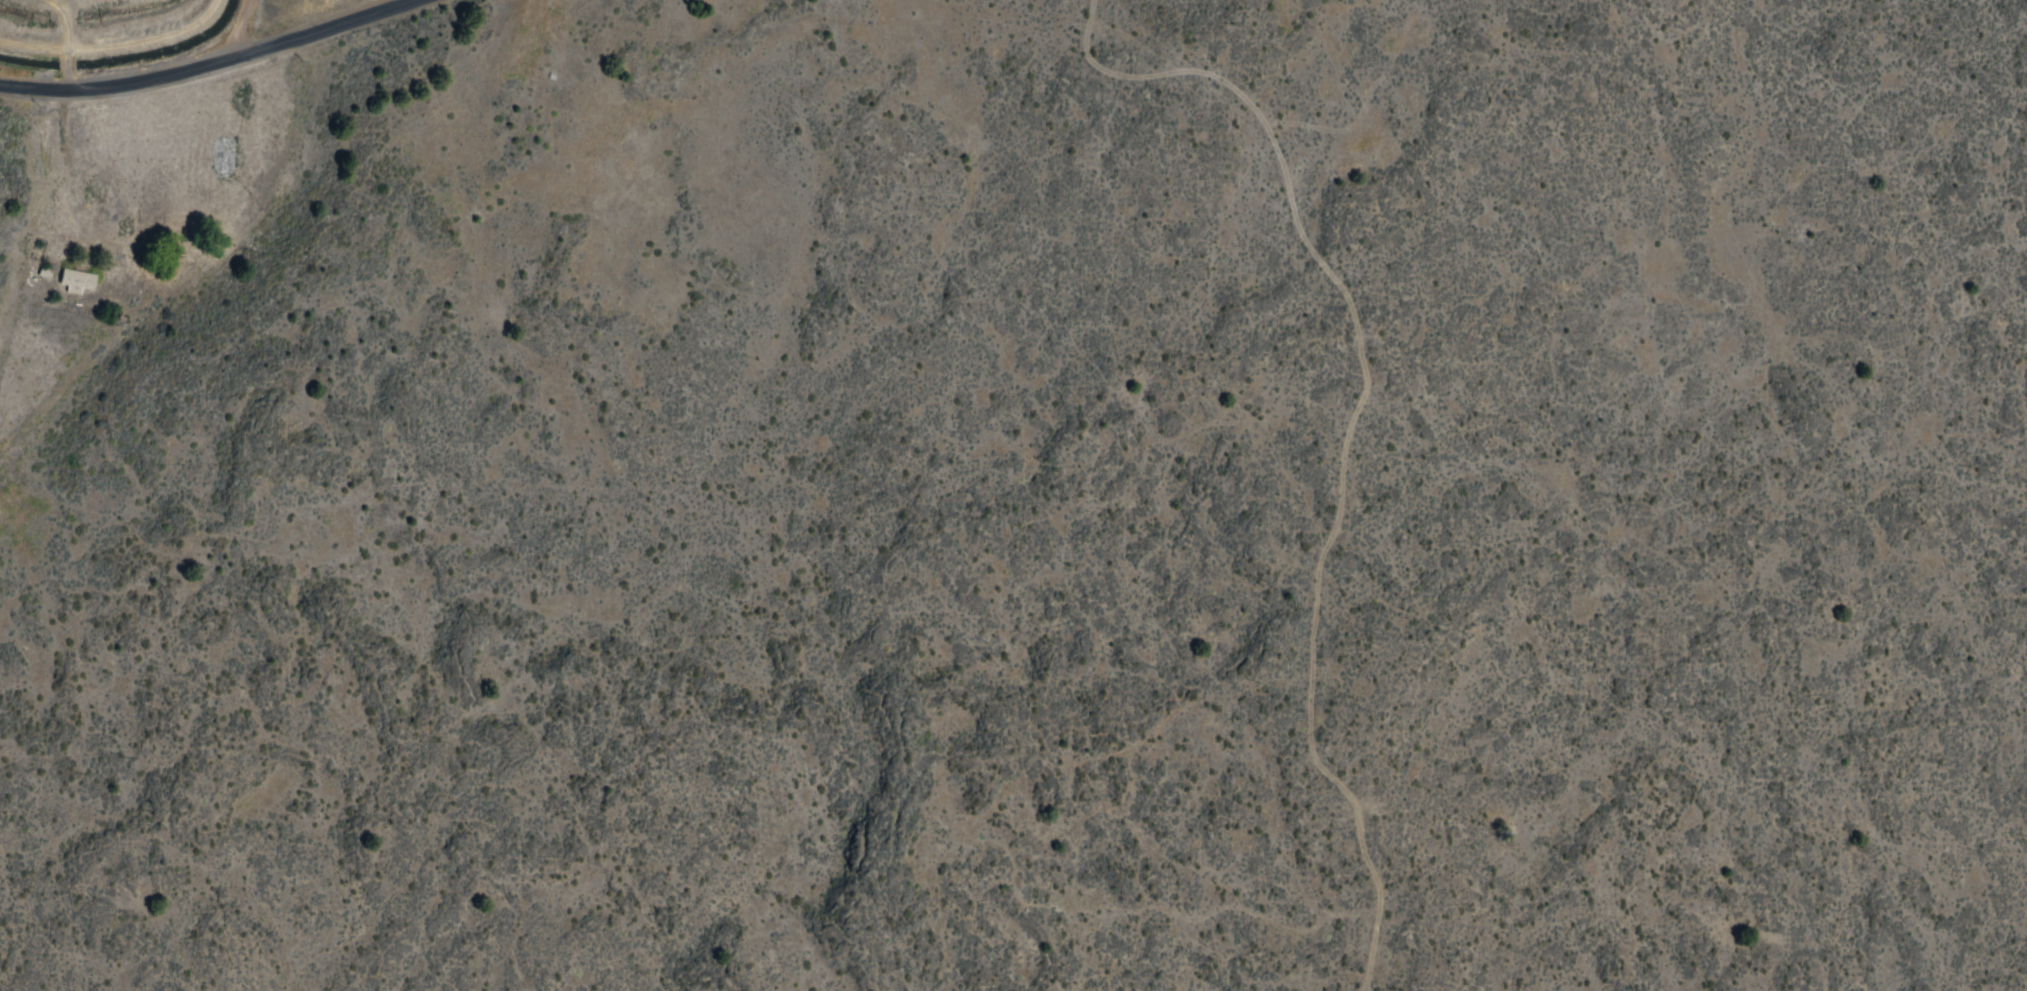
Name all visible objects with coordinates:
road: (214, 66)
building: (74, 277)
road: (1353, 428)

